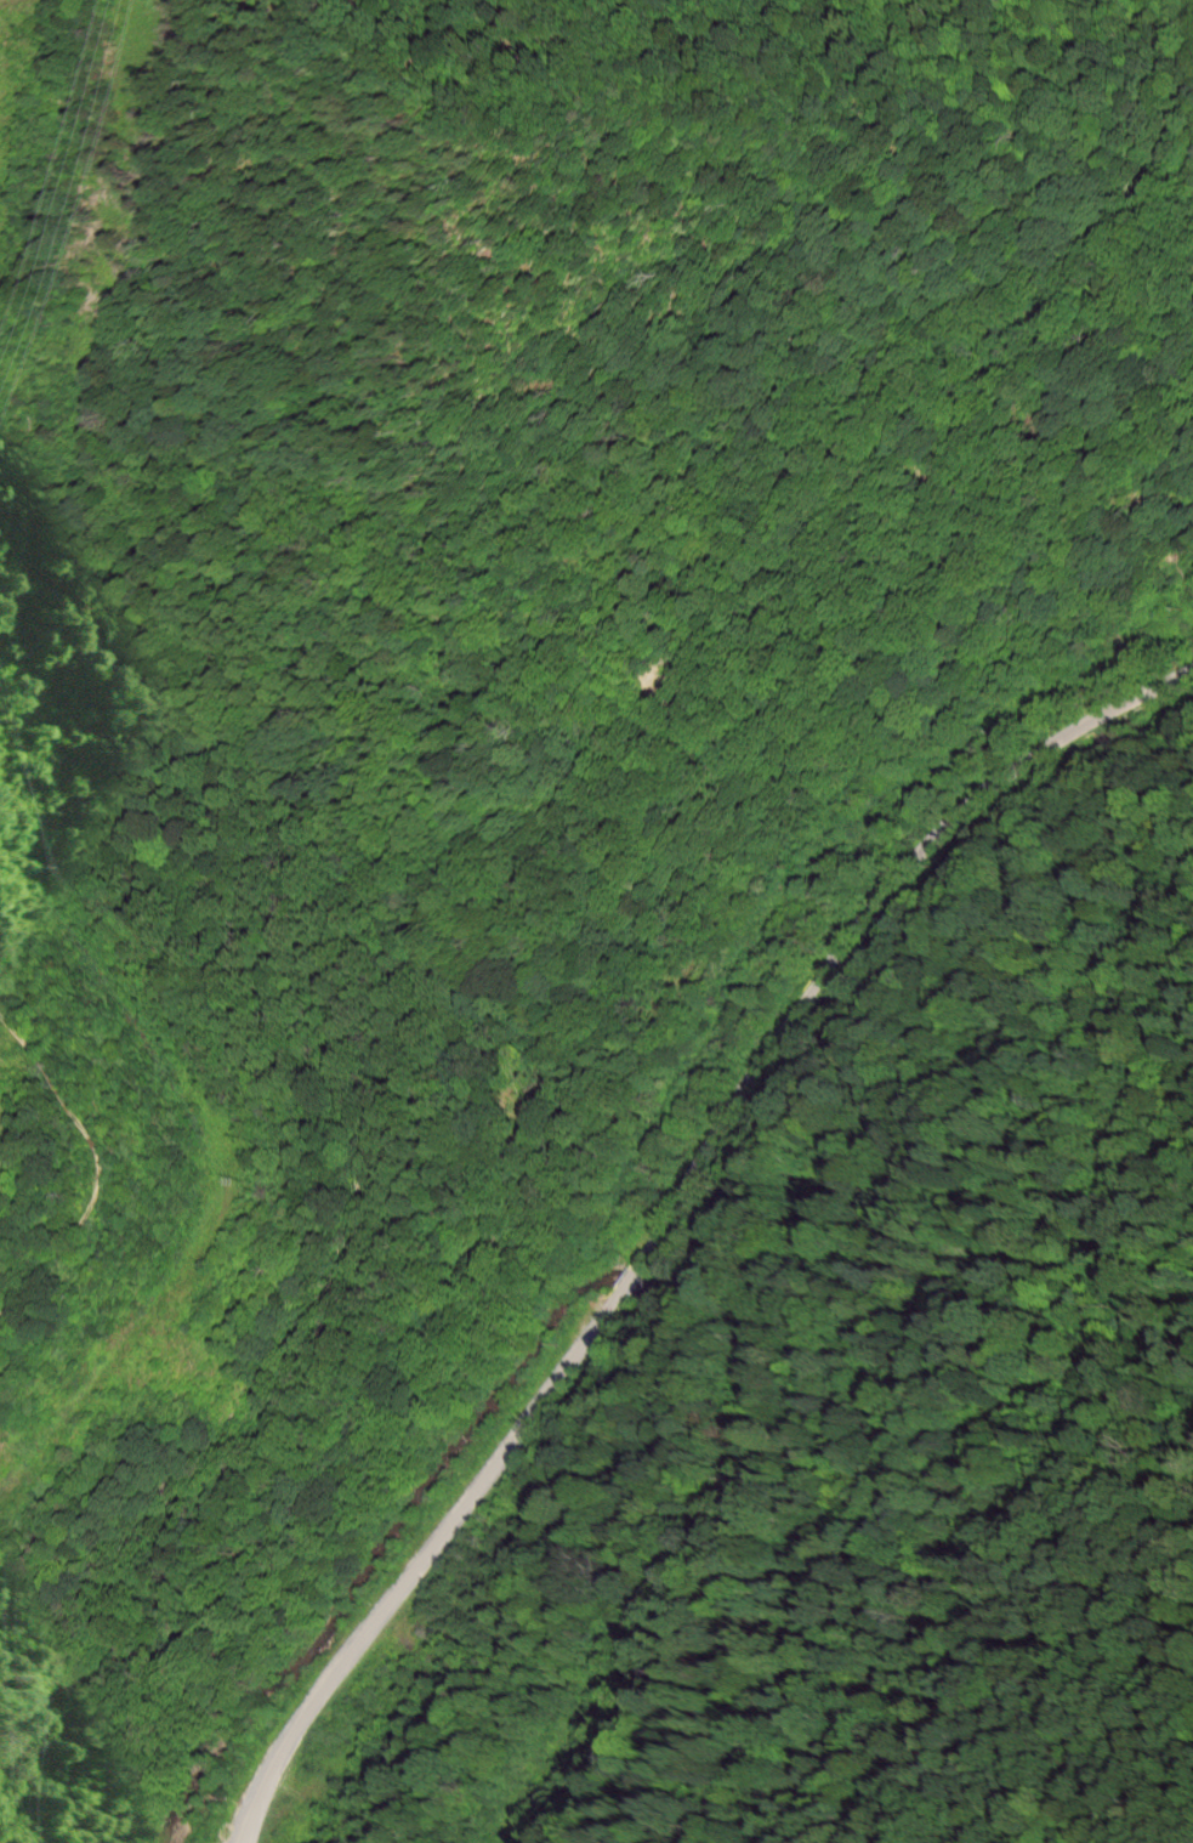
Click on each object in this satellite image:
power tower: (19, 1175)
power tower: (249, 1192)
road: (657, 1202)
power tower: (1, 1507)

